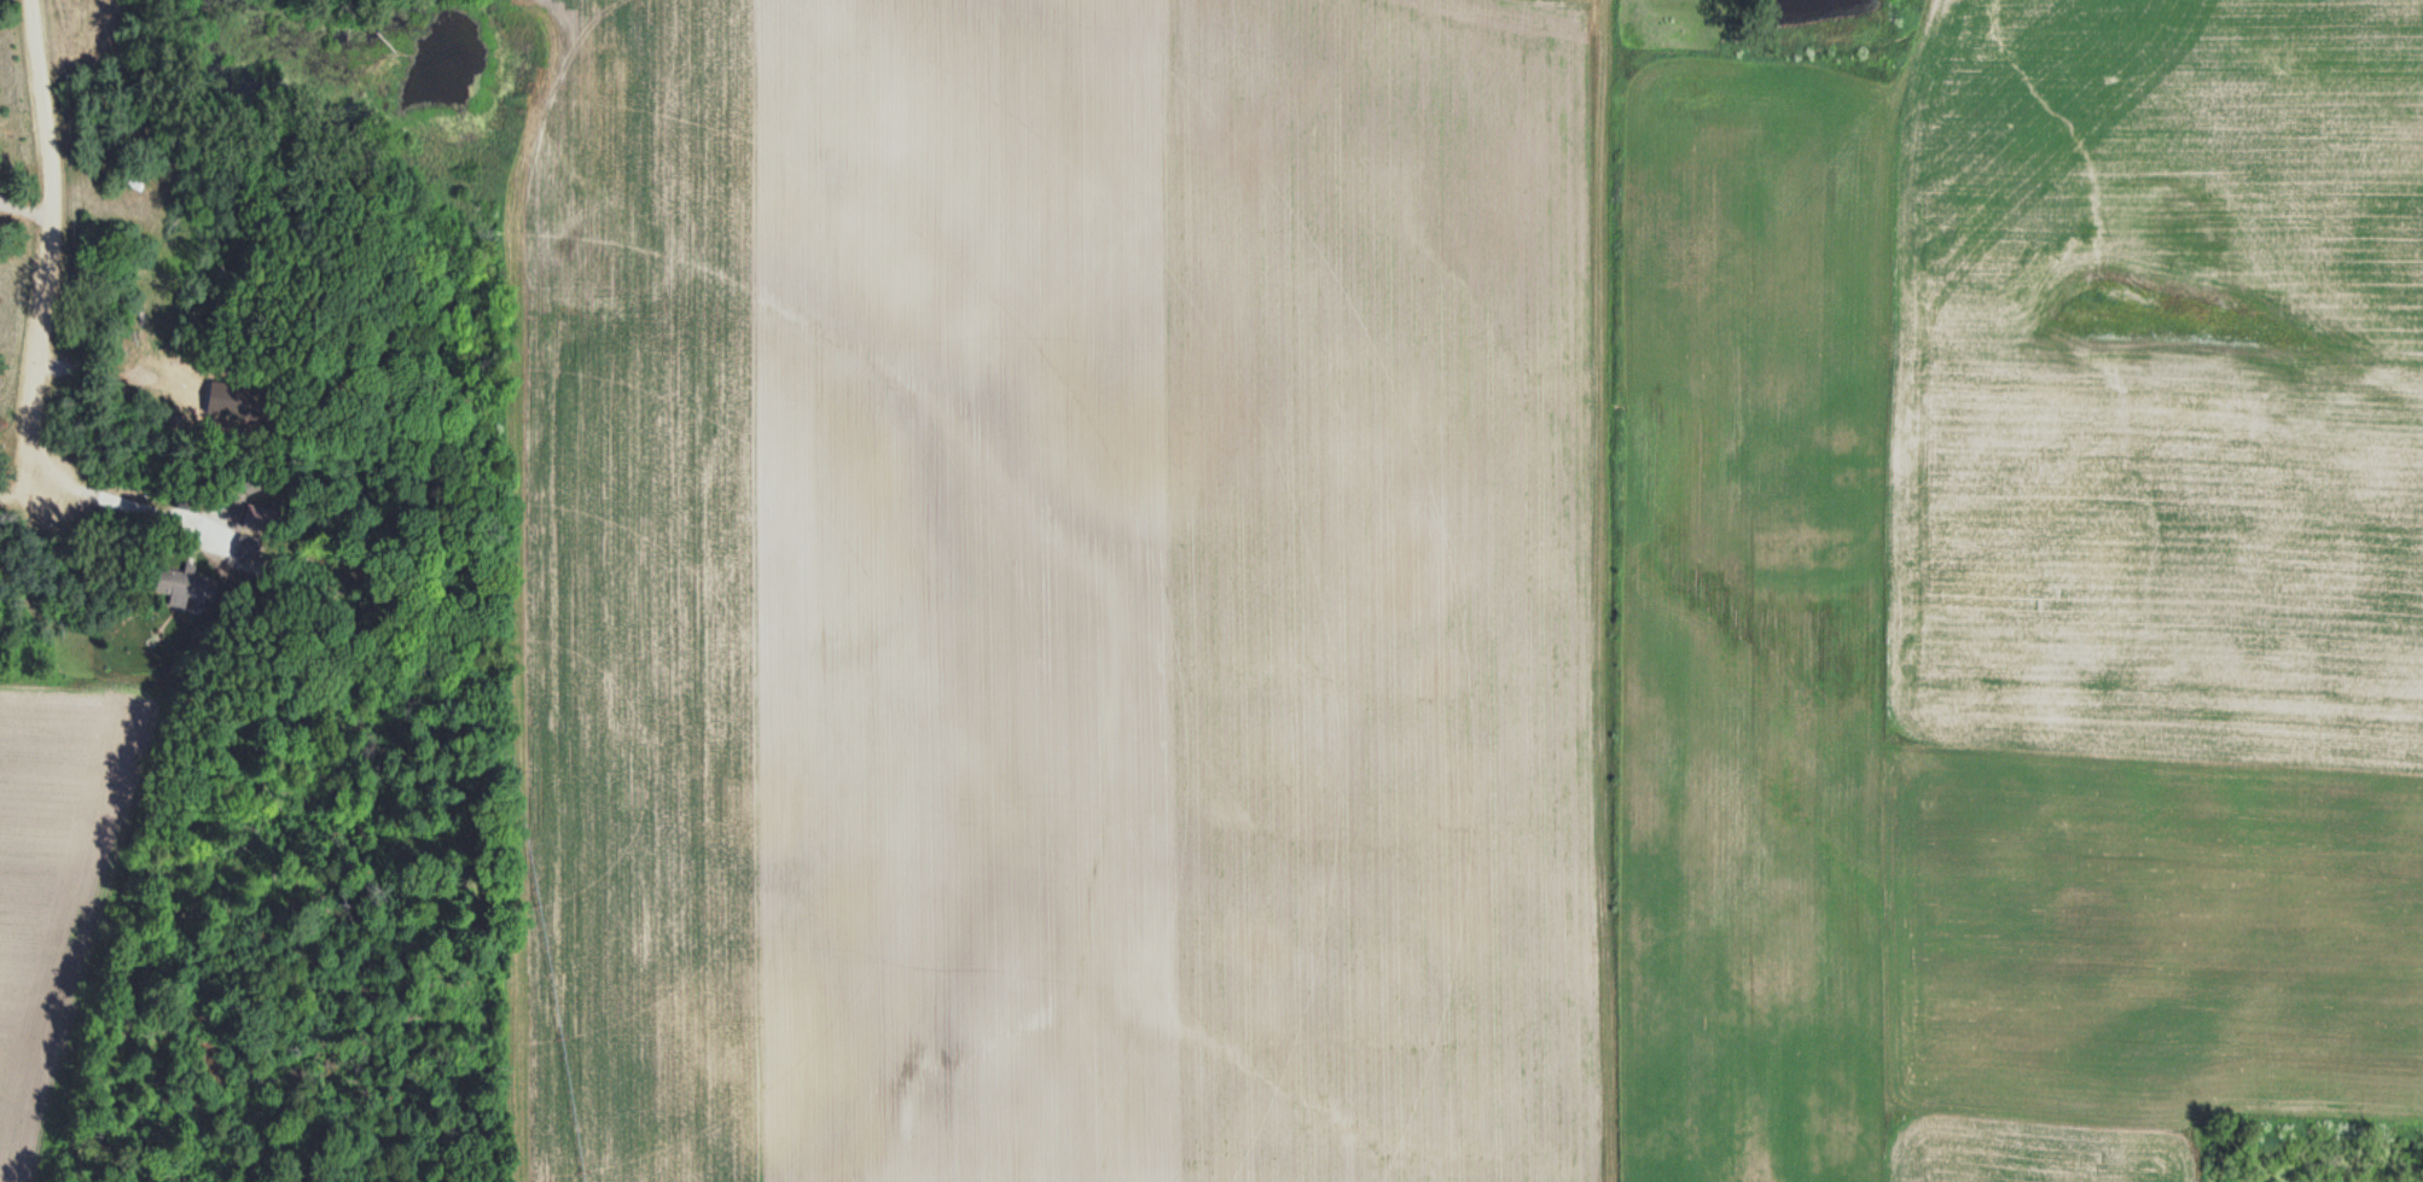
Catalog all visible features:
building: (184, 587)

